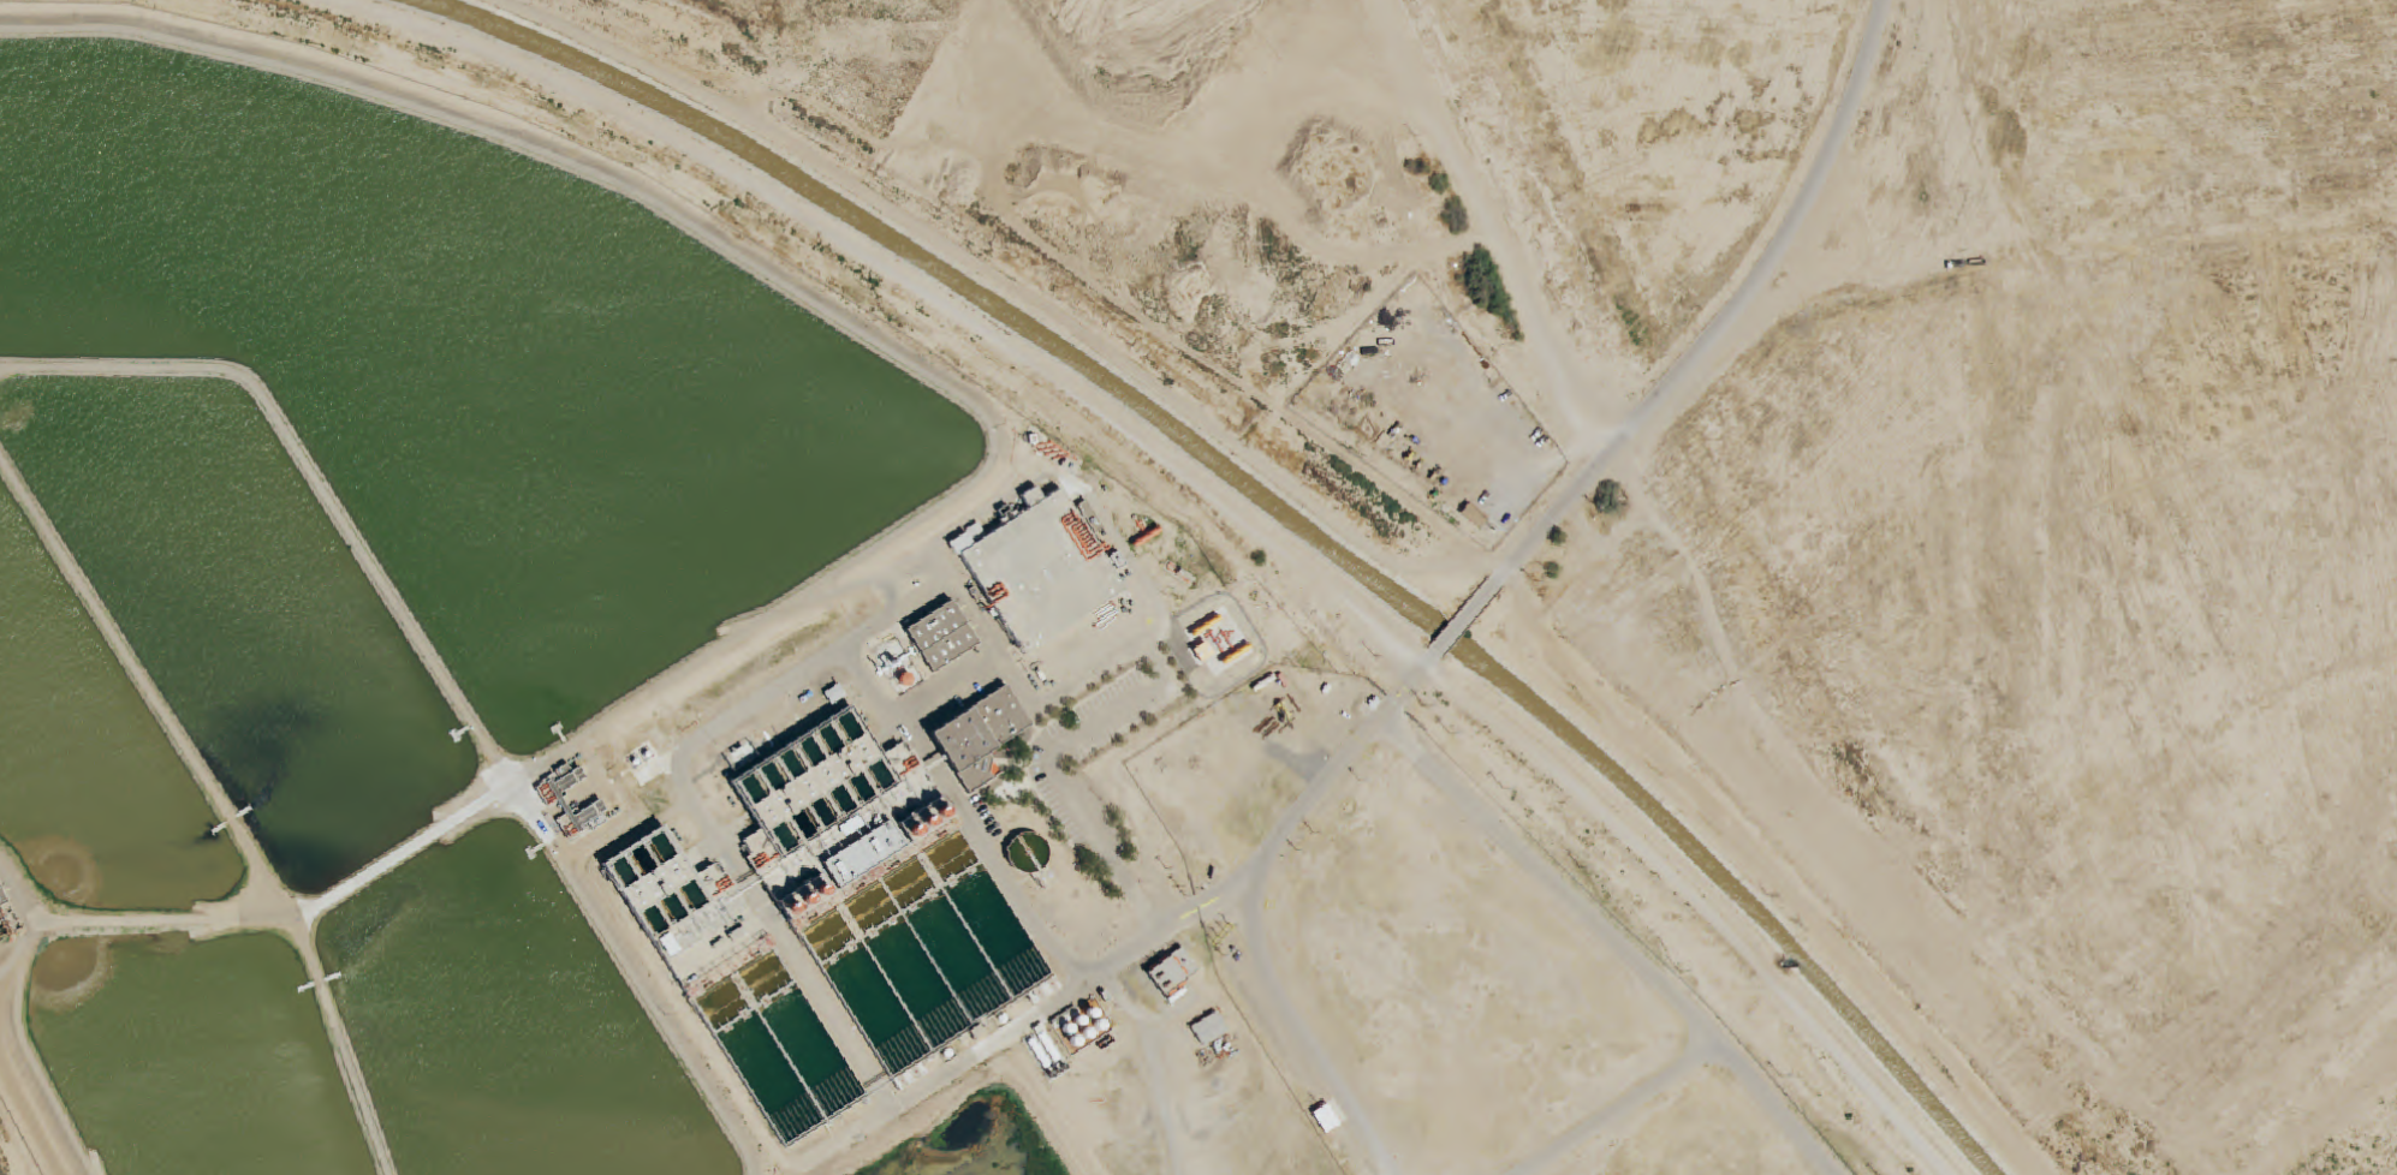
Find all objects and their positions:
road: (1738, 304)
road: (1584, 370)
building: (1474, 515)
building: (1041, 569)
road: (898, 613)
road: (1456, 630)
building: (941, 637)
road: (768, 696)
road: (1043, 705)
building: (980, 738)
road: (1324, 782)
building: (597, 805)
building: (1031, 855)
building: (835, 875)
building: (2, 900)
road: (1170, 929)
road: (1617, 937)
building: (1172, 972)
building: (850, 976)
road: (1305, 1025)
building: (1209, 1030)
road: (945, 1073)
road: (1616, 1107)

